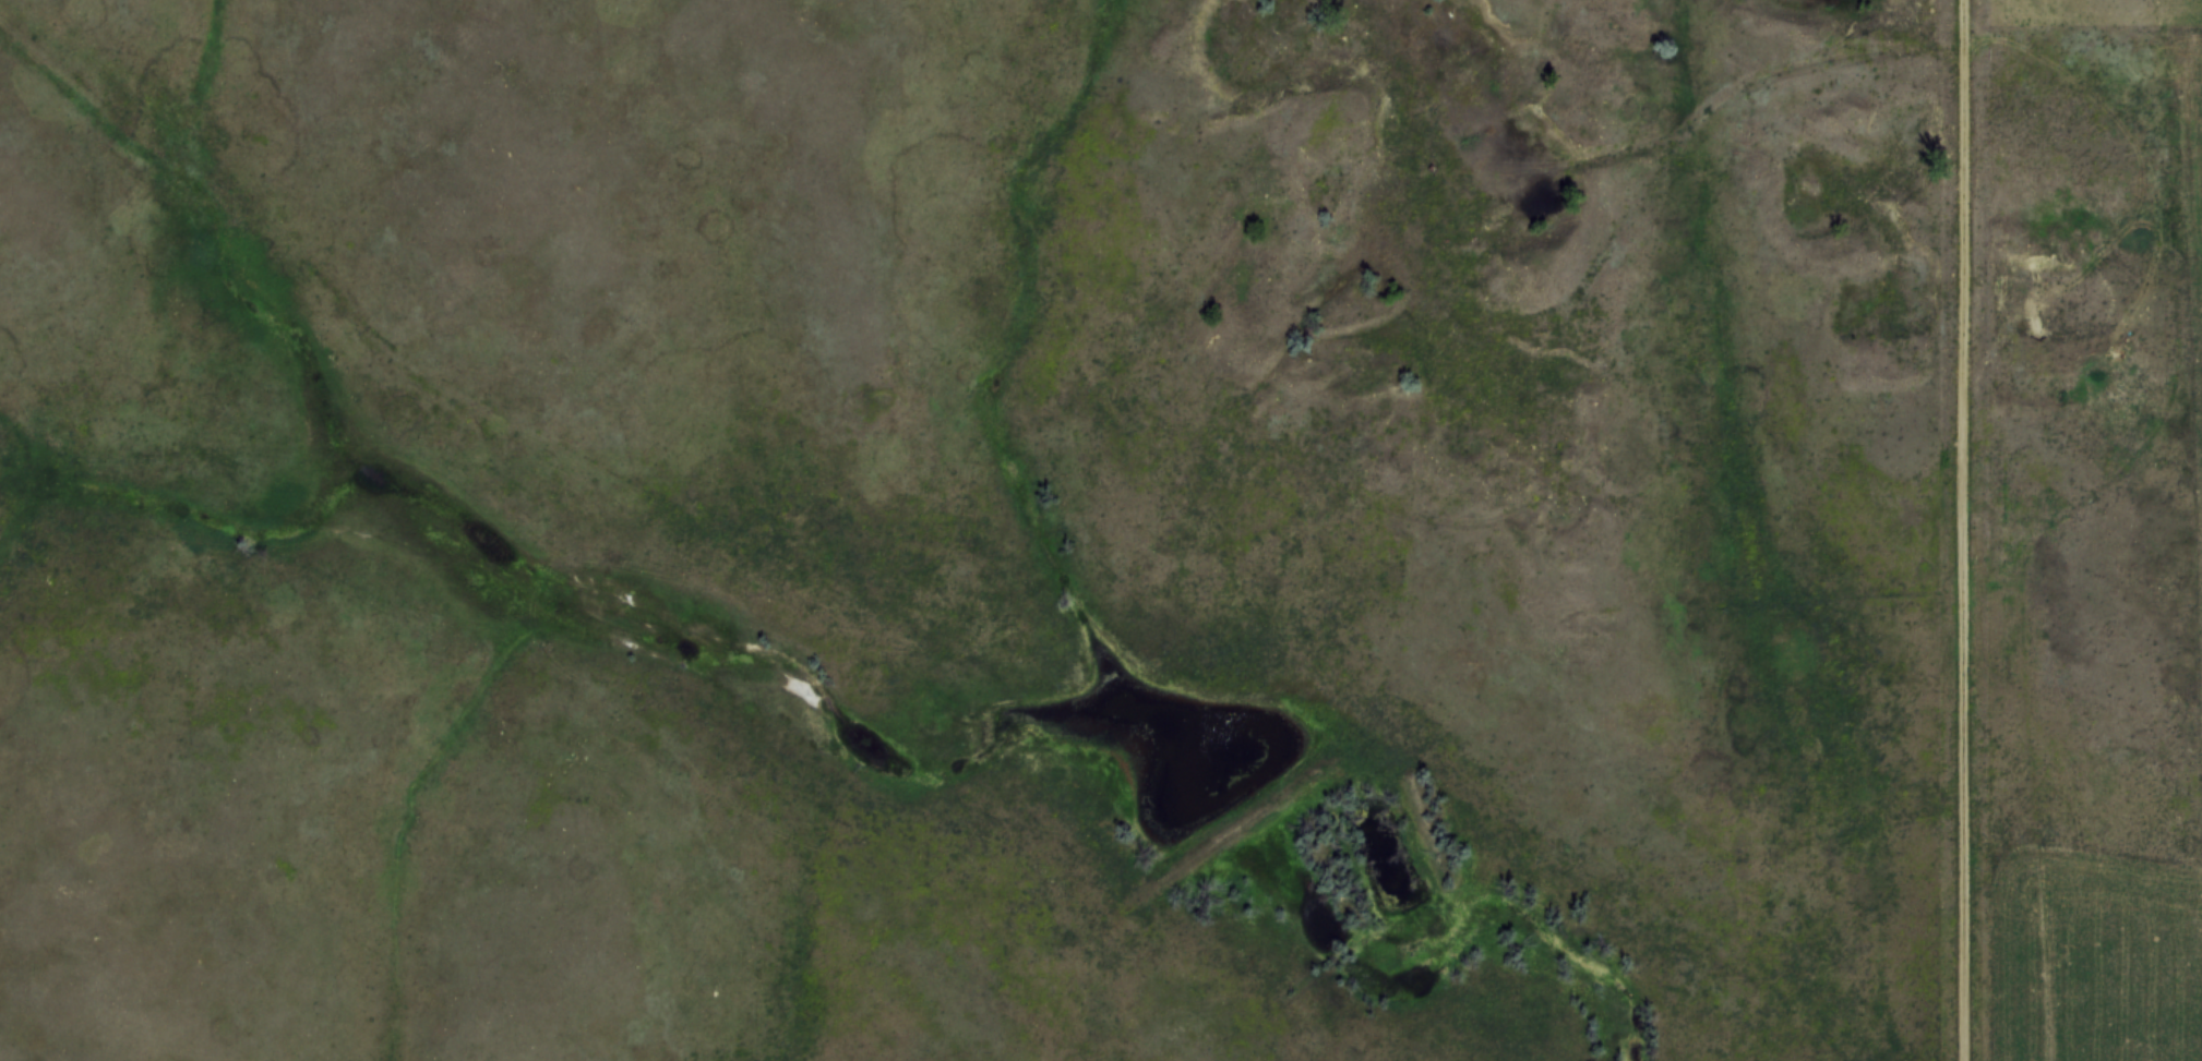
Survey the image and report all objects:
road: (1964, 3)
road: (1964, 534)

